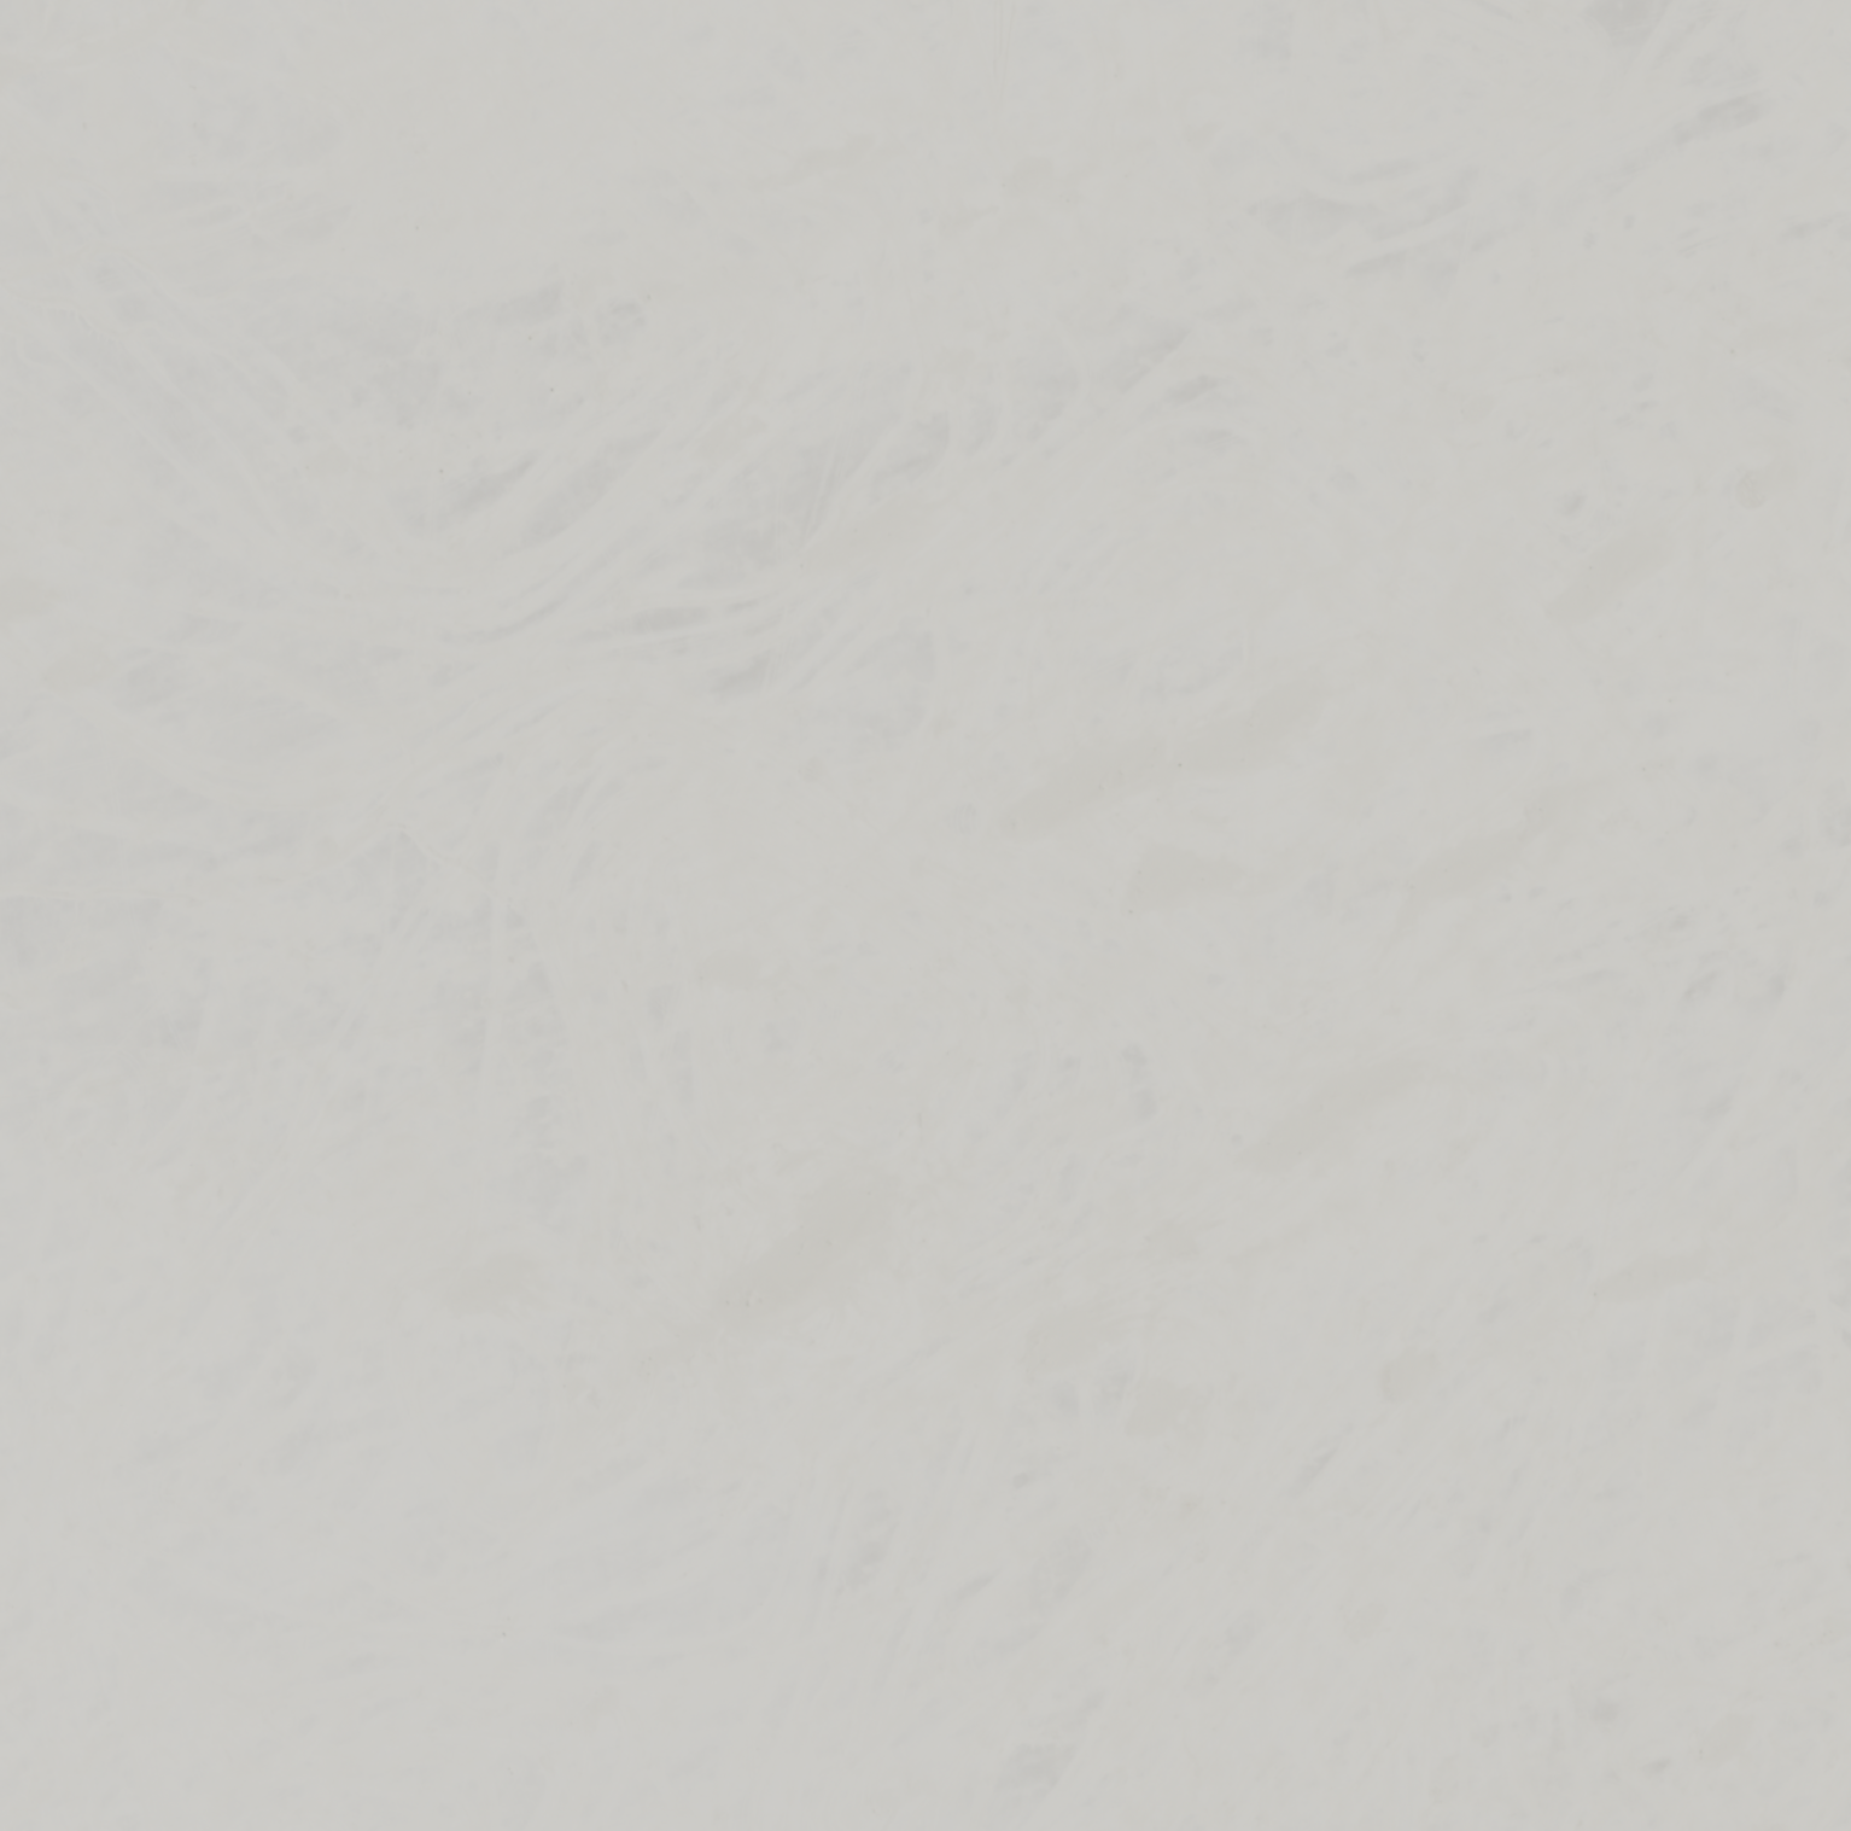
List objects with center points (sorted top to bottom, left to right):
road: (420, 577)
road: (667, 915)

